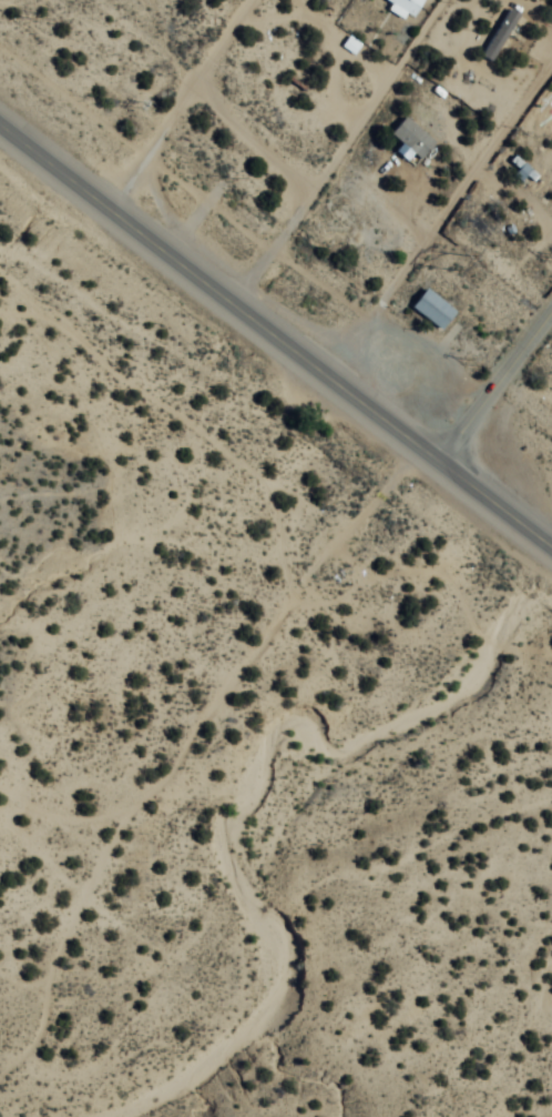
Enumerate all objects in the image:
building: (407, 8)
building: (502, 38)
road: (180, 105)
building: (415, 139)
road: (344, 153)
power tower: (243, 180)
power tower: (551, 259)
power tower: (456, 260)
building: (436, 311)
road: (276, 335)
power tower: (470, 364)
road: (500, 395)
road: (177, 416)
road: (364, 514)
road: (135, 819)

